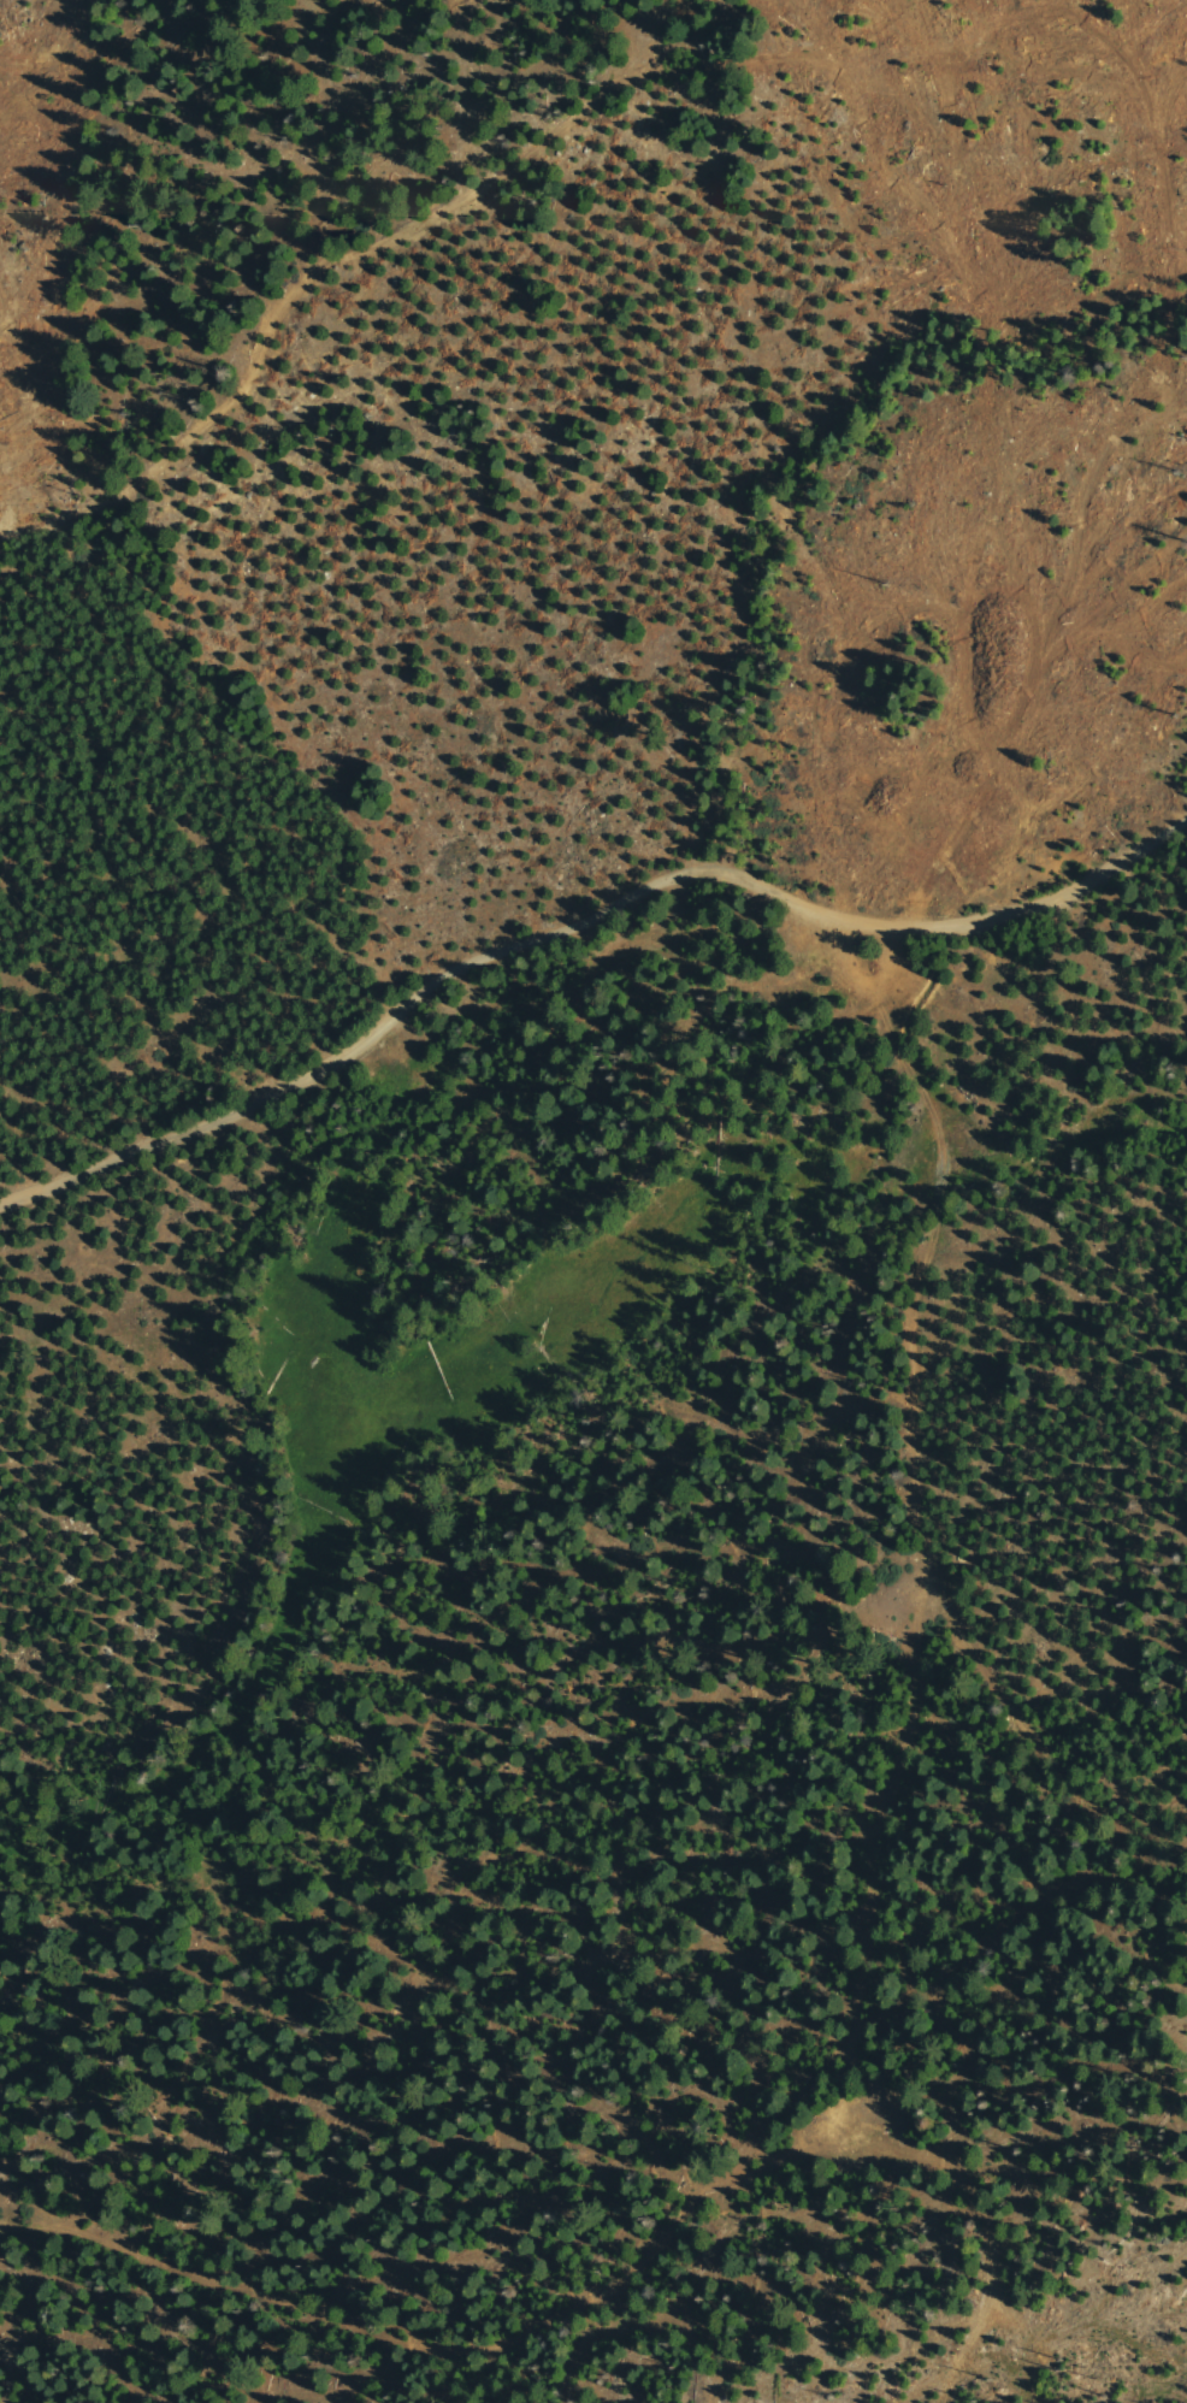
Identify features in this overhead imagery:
road: (579, 909)

